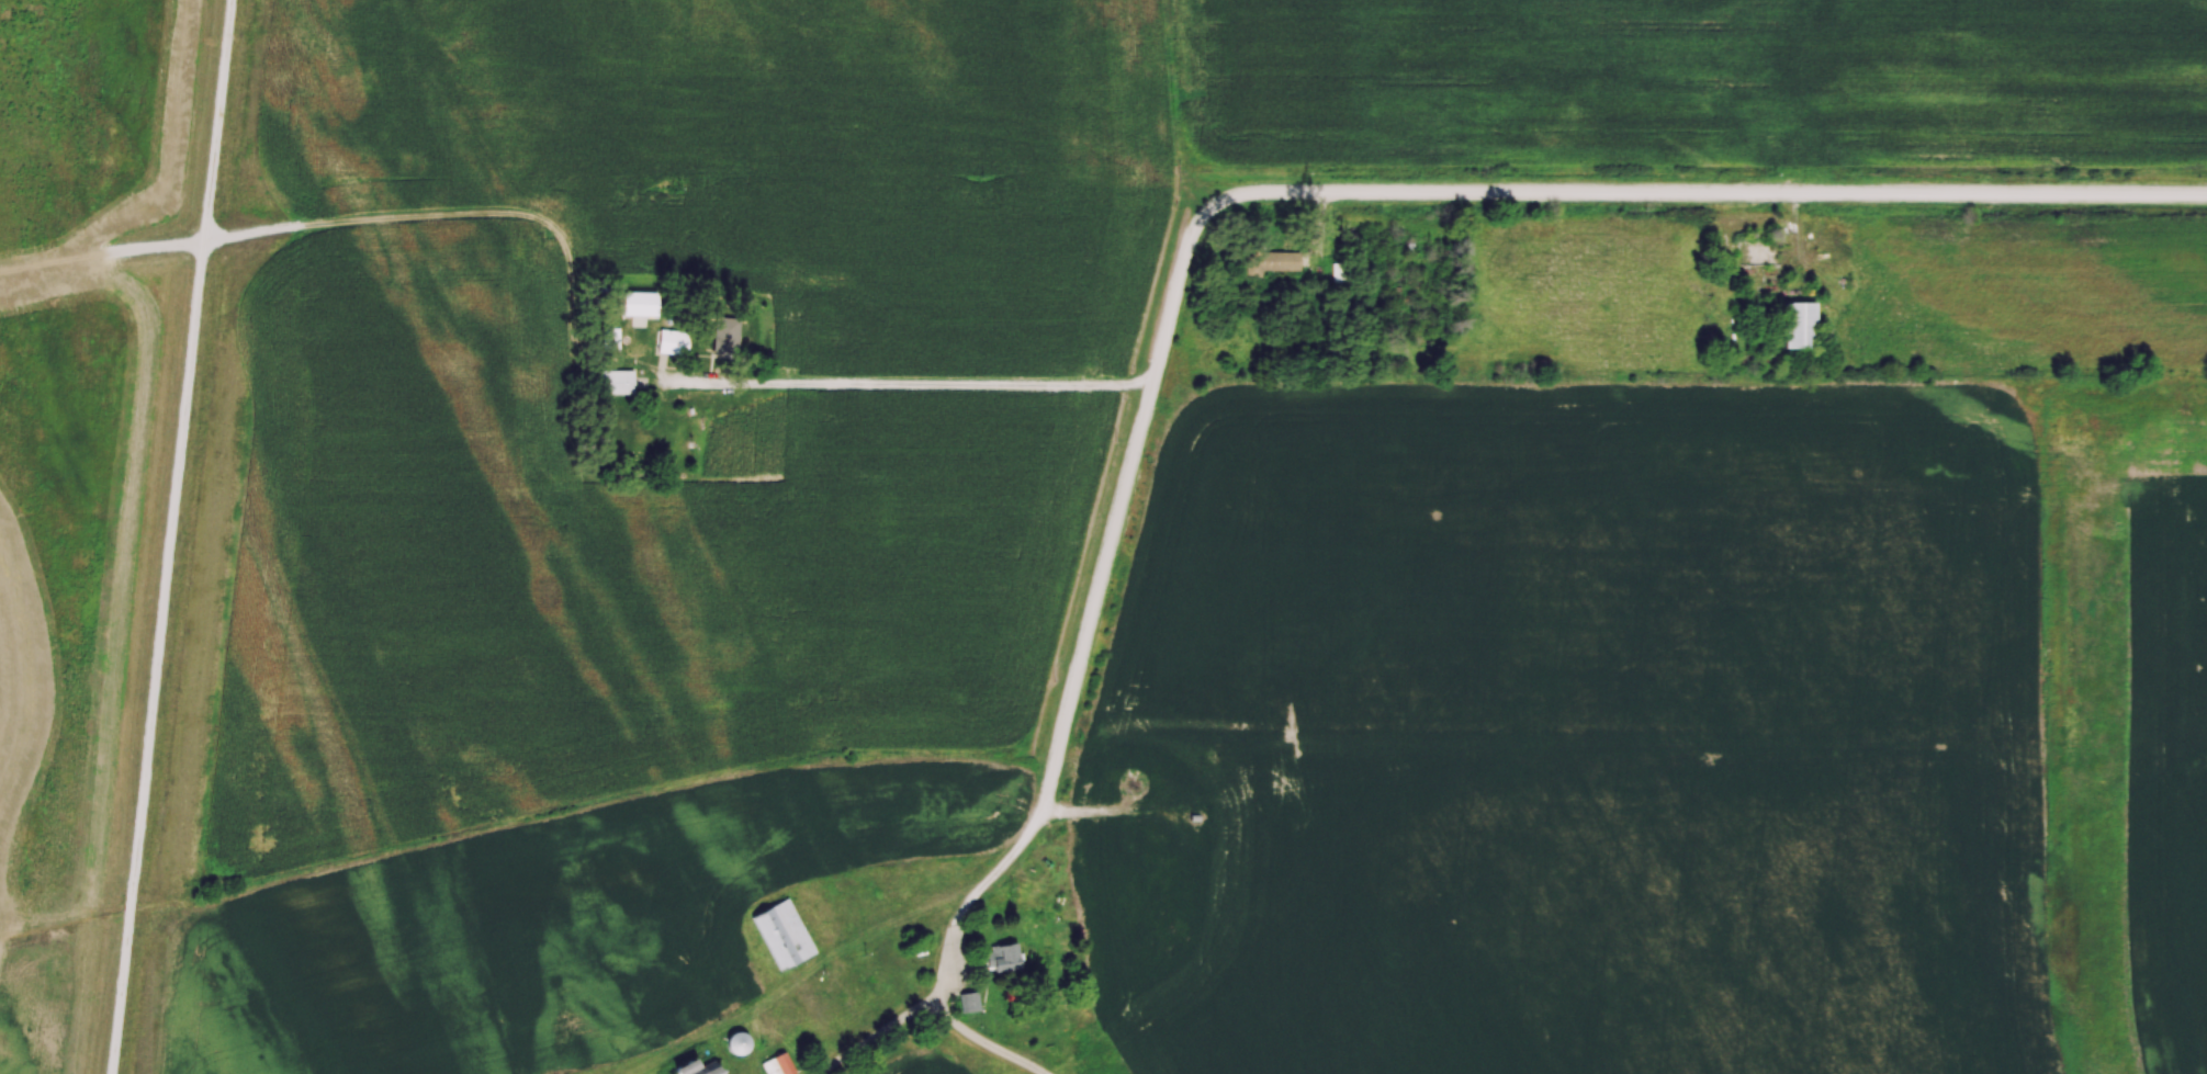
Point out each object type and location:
road: (1419, 191)
road: (903, 384)
road: (166, 536)
crop: (1577, 736)
road: (987, 873)
crop: (21, 1002)
road: (870, 1032)
road: (981, 1044)
crop: (933, 1062)

